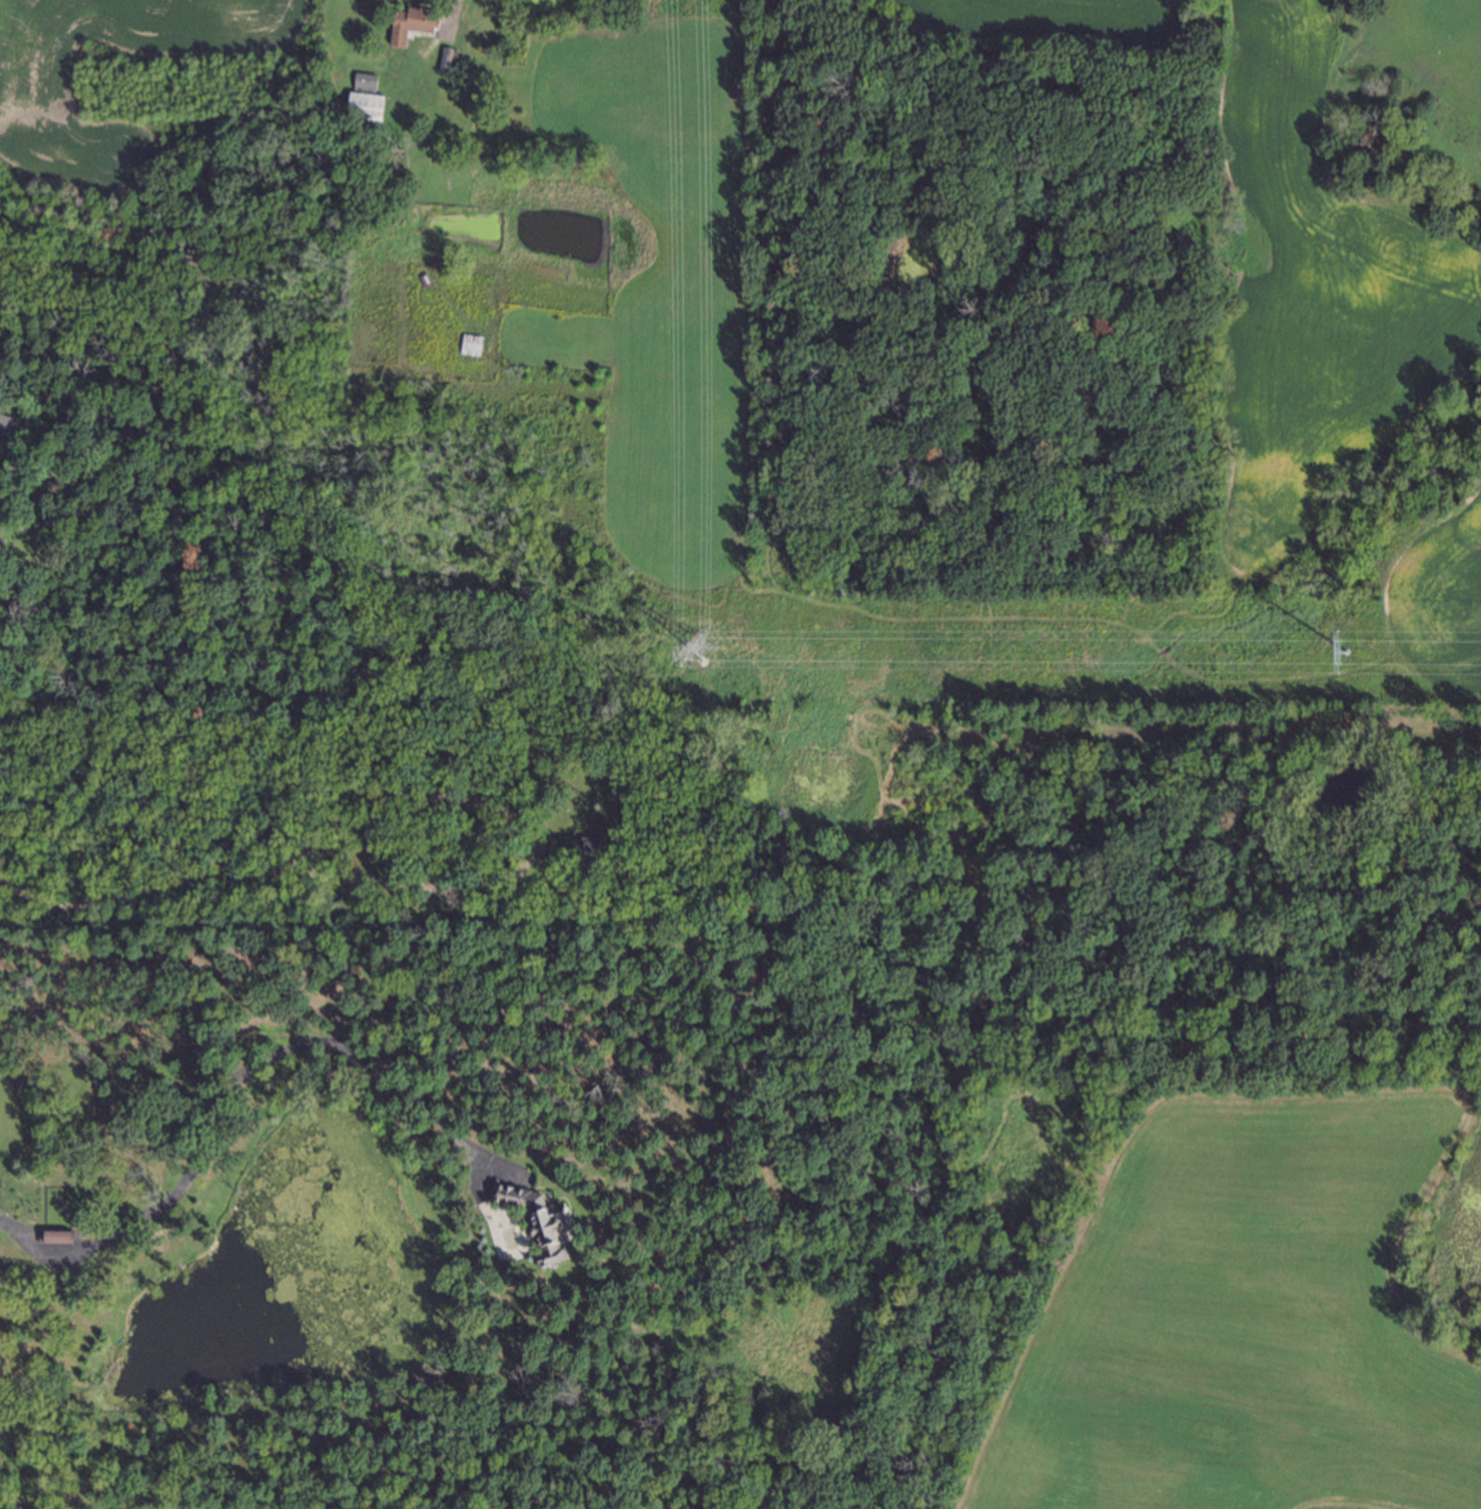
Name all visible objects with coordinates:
road: (451, 14)
building: (409, 25)
building: (505, 58)
building: (444, 61)
building: (363, 81)
building: (362, 108)
building: (421, 278)
building: (470, 346)
building: (6, 423)
building: (3, 507)
power tower: (702, 660)
power tower: (1366, 661)
building: (572, 847)
building: (493, 903)
road: (218, 1092)
building: (536, 1218)
building: (51, 1235)

